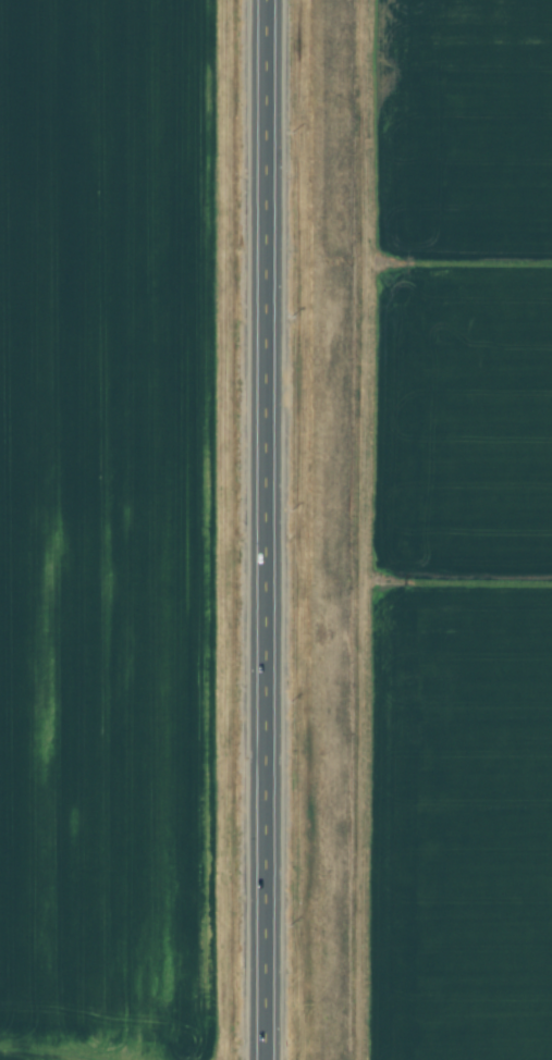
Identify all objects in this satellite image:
road: (263, 530)

